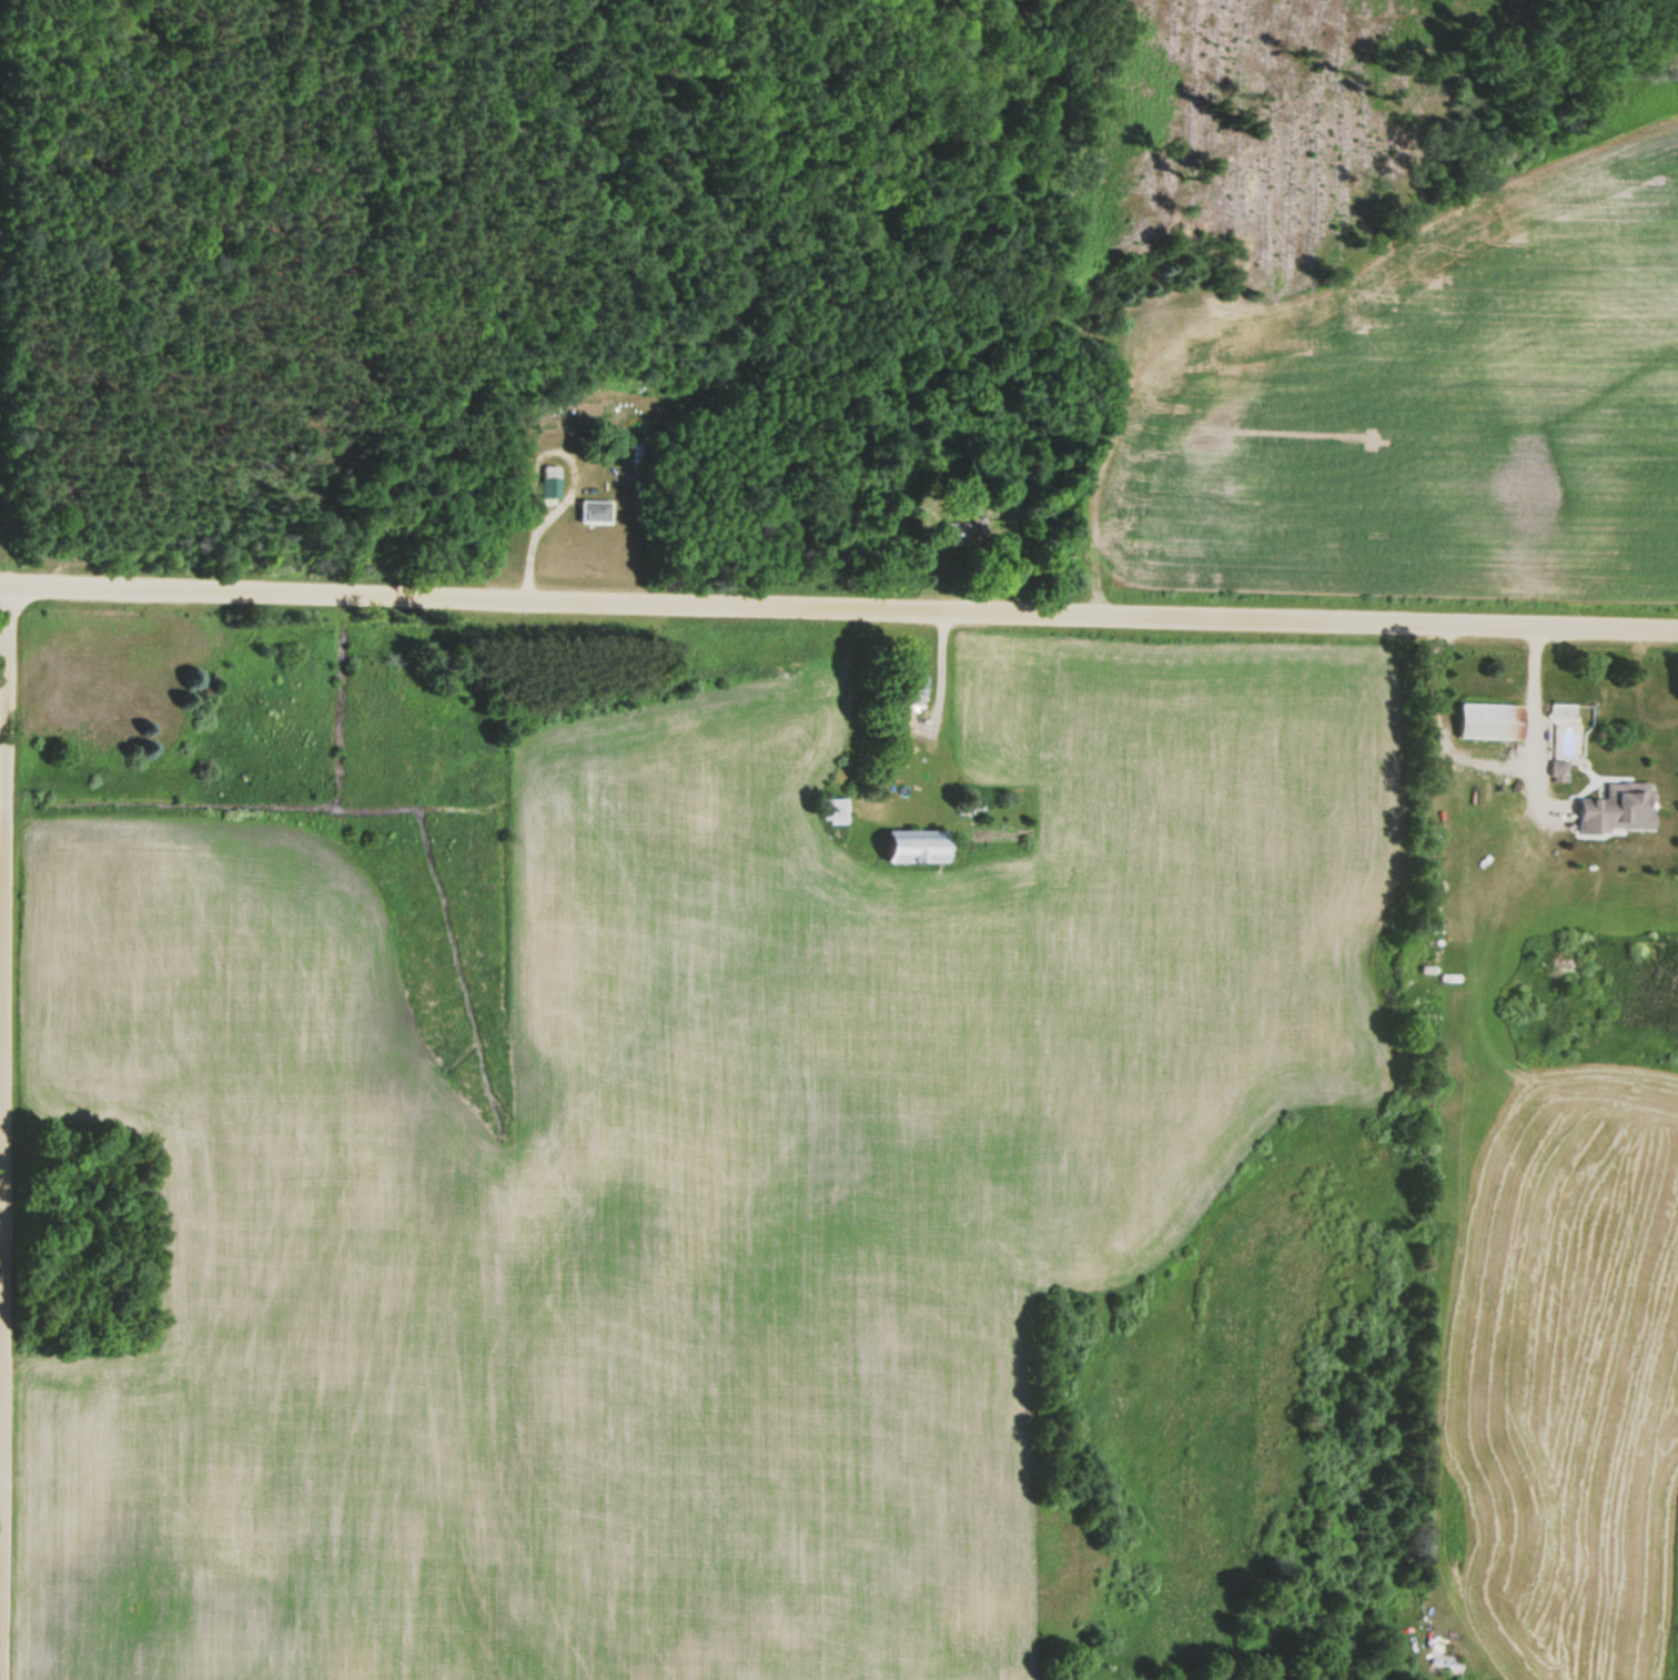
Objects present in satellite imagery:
building: (552, 482)
building: (595, 512)
road: (838, 608)
building: (1478, 722)
road: (0, 791)
building: (1611, 809)
building: (837, 810)
building: (921, 847)

